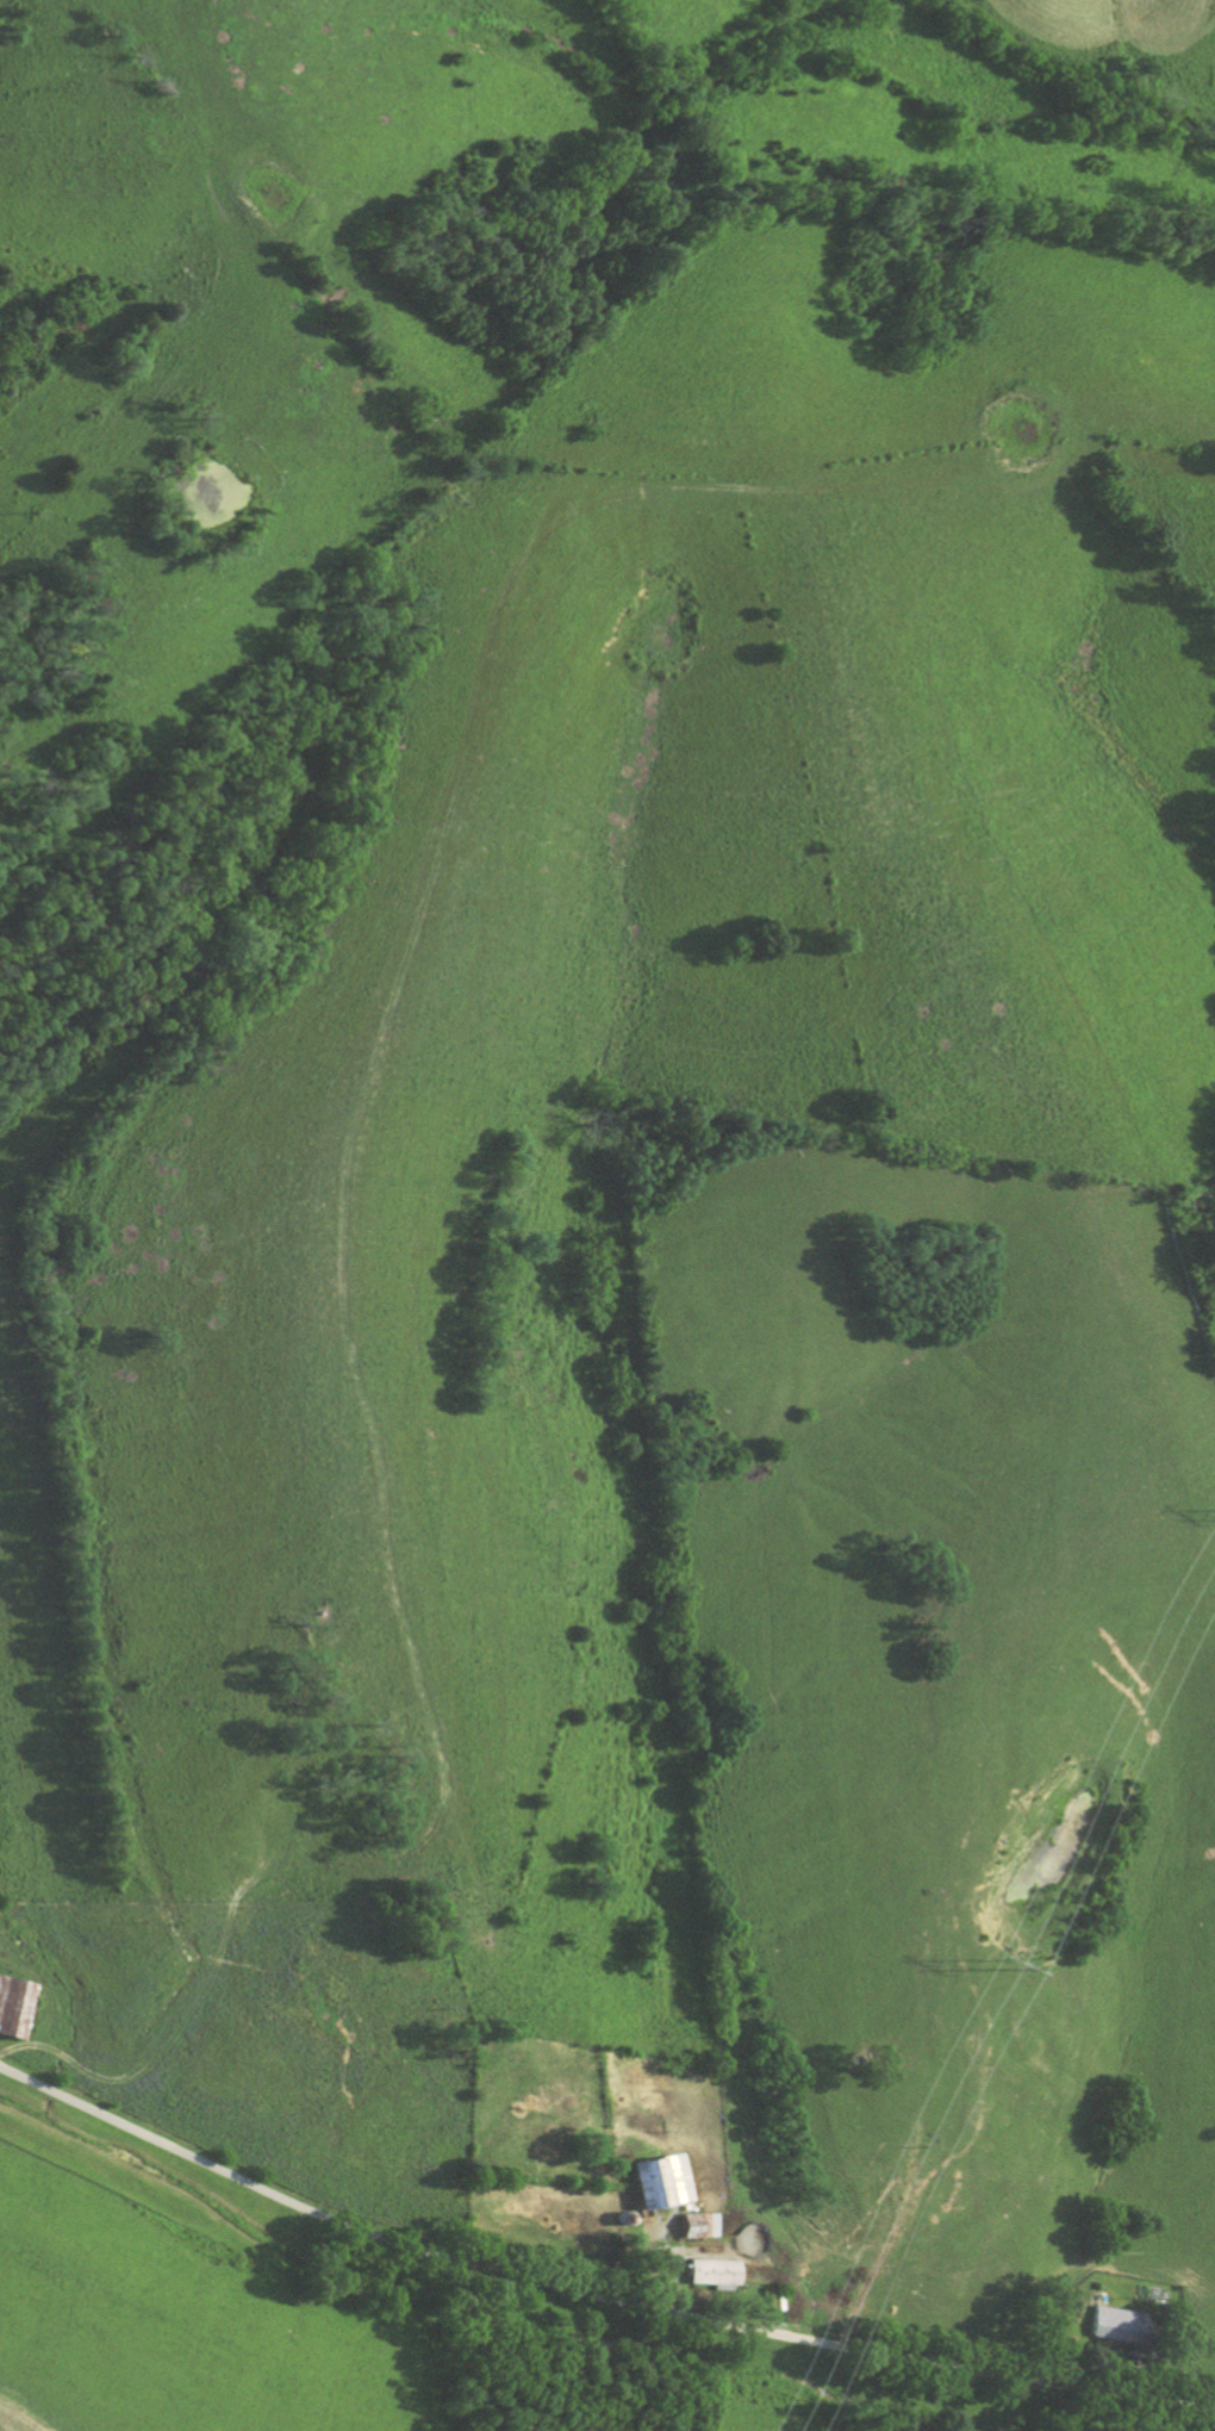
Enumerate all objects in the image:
park: (412, 1920)
power tower: (997, 1965)
building: (19, 2004)
building: (667, 2181)
road: (591, 2294)
building: (1127, 2326)

